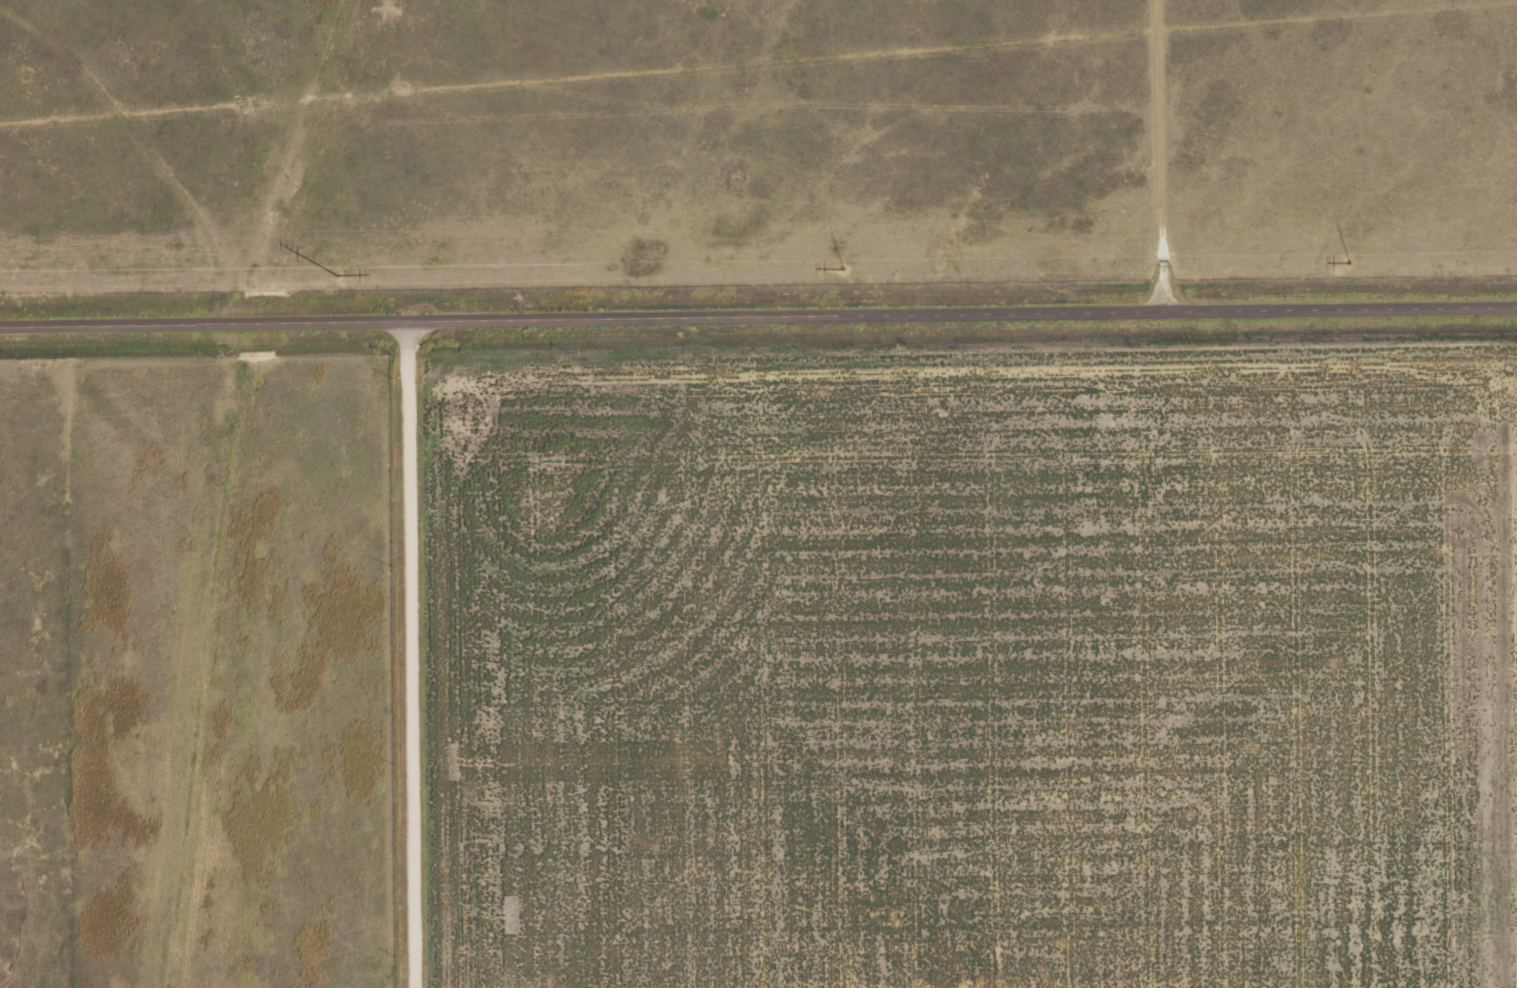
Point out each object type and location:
road: (131, 152)
power tower: (1348, 262)
power tower: (843, 269)
power tower: (335, 275)
road: (758, 313)
road: (415, 653)

